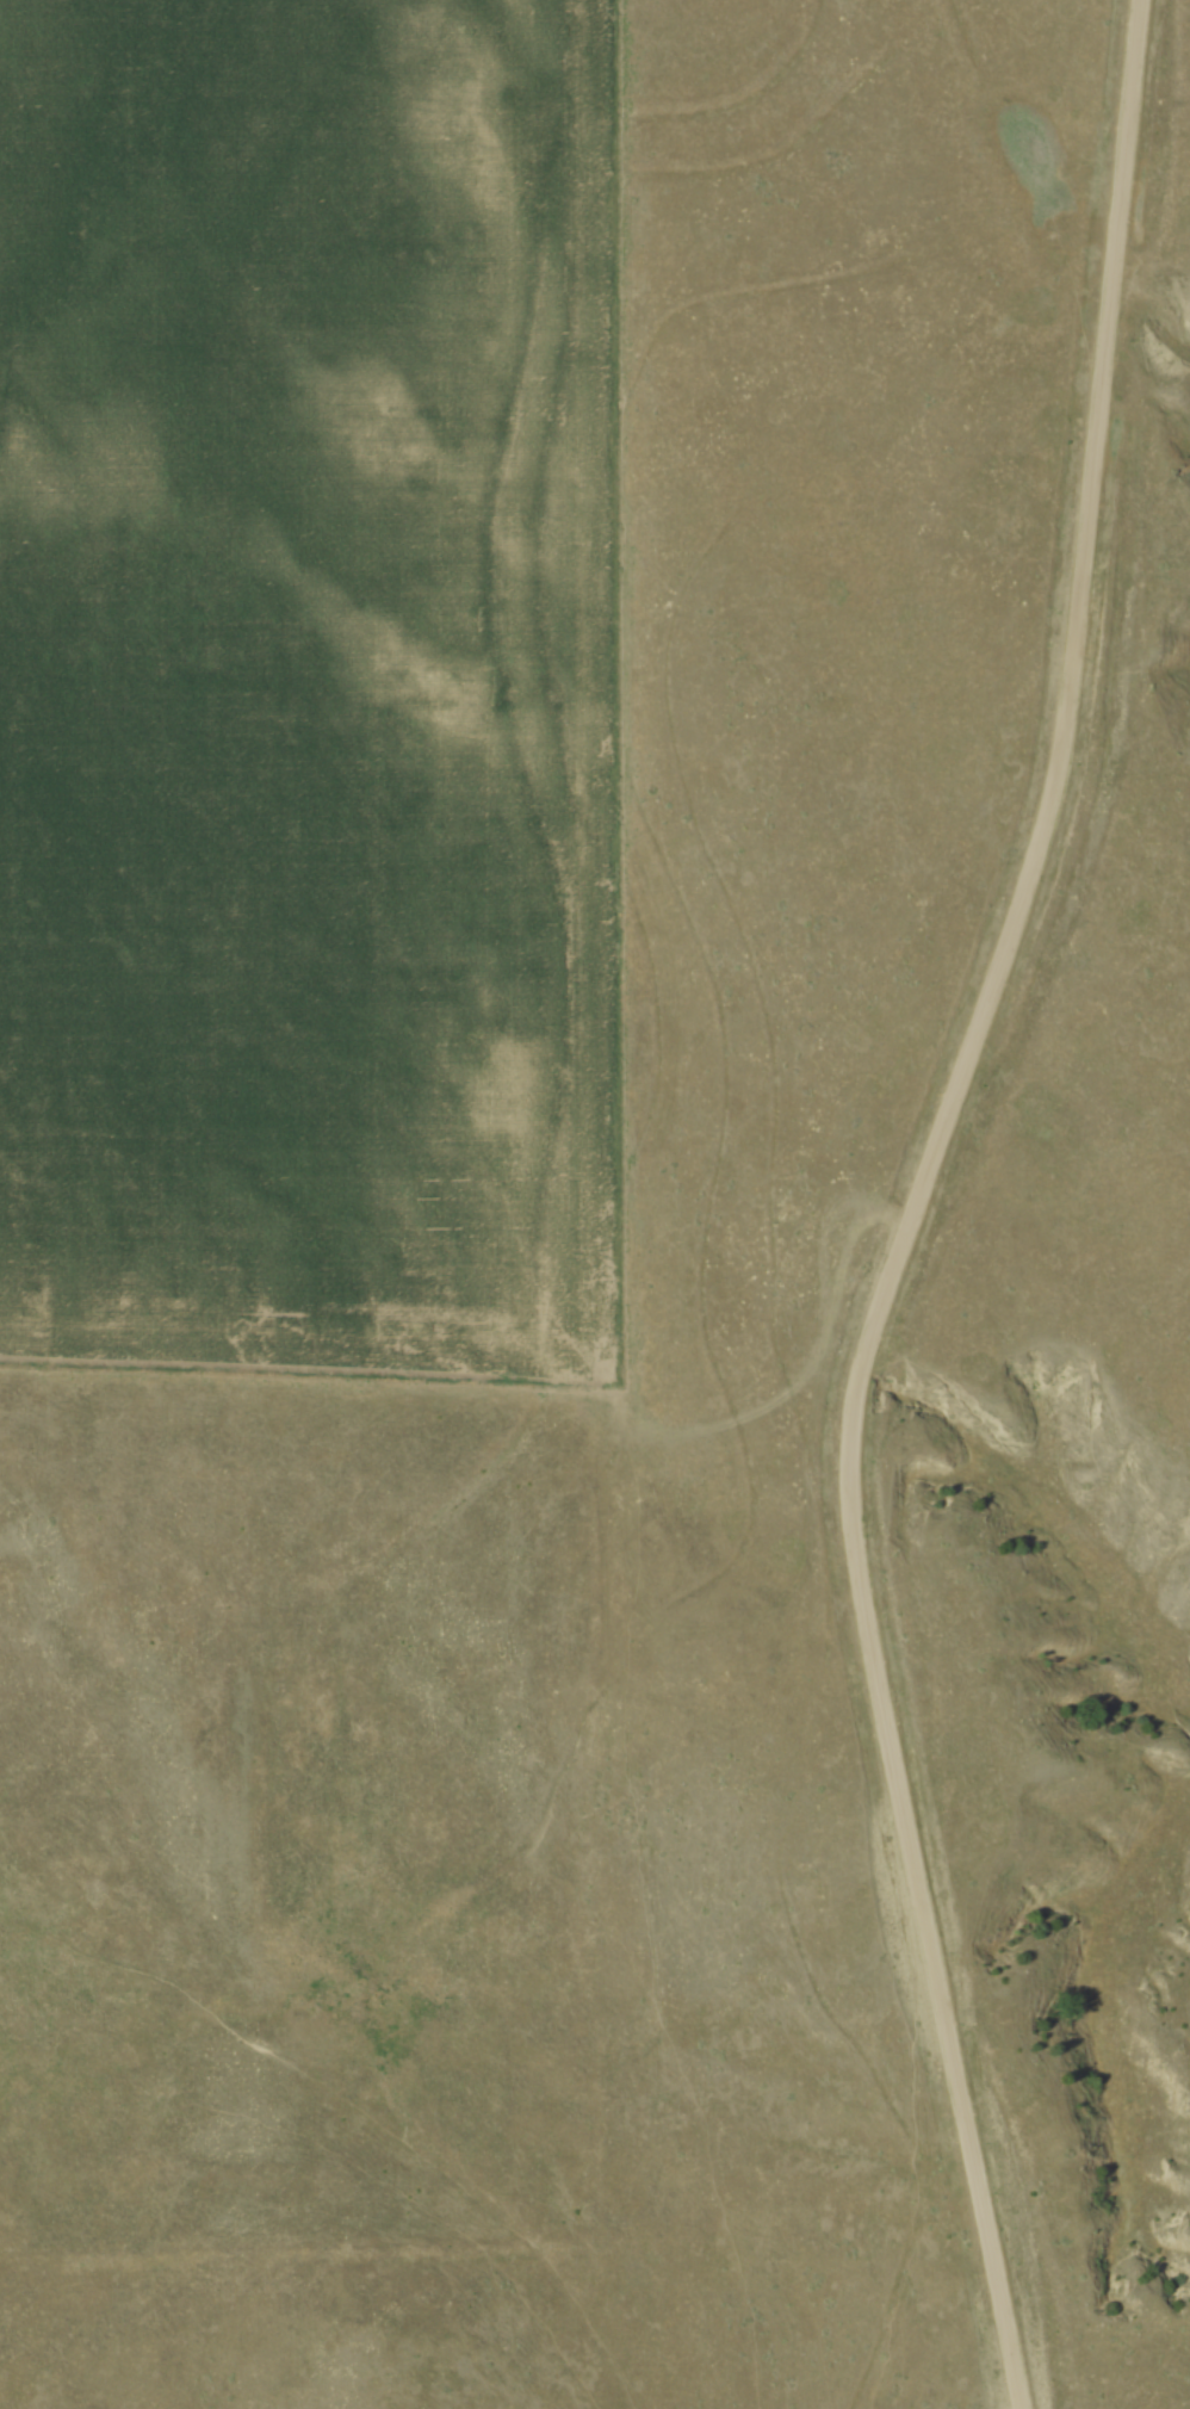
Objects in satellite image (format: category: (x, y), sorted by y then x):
road: (918, 1203)

